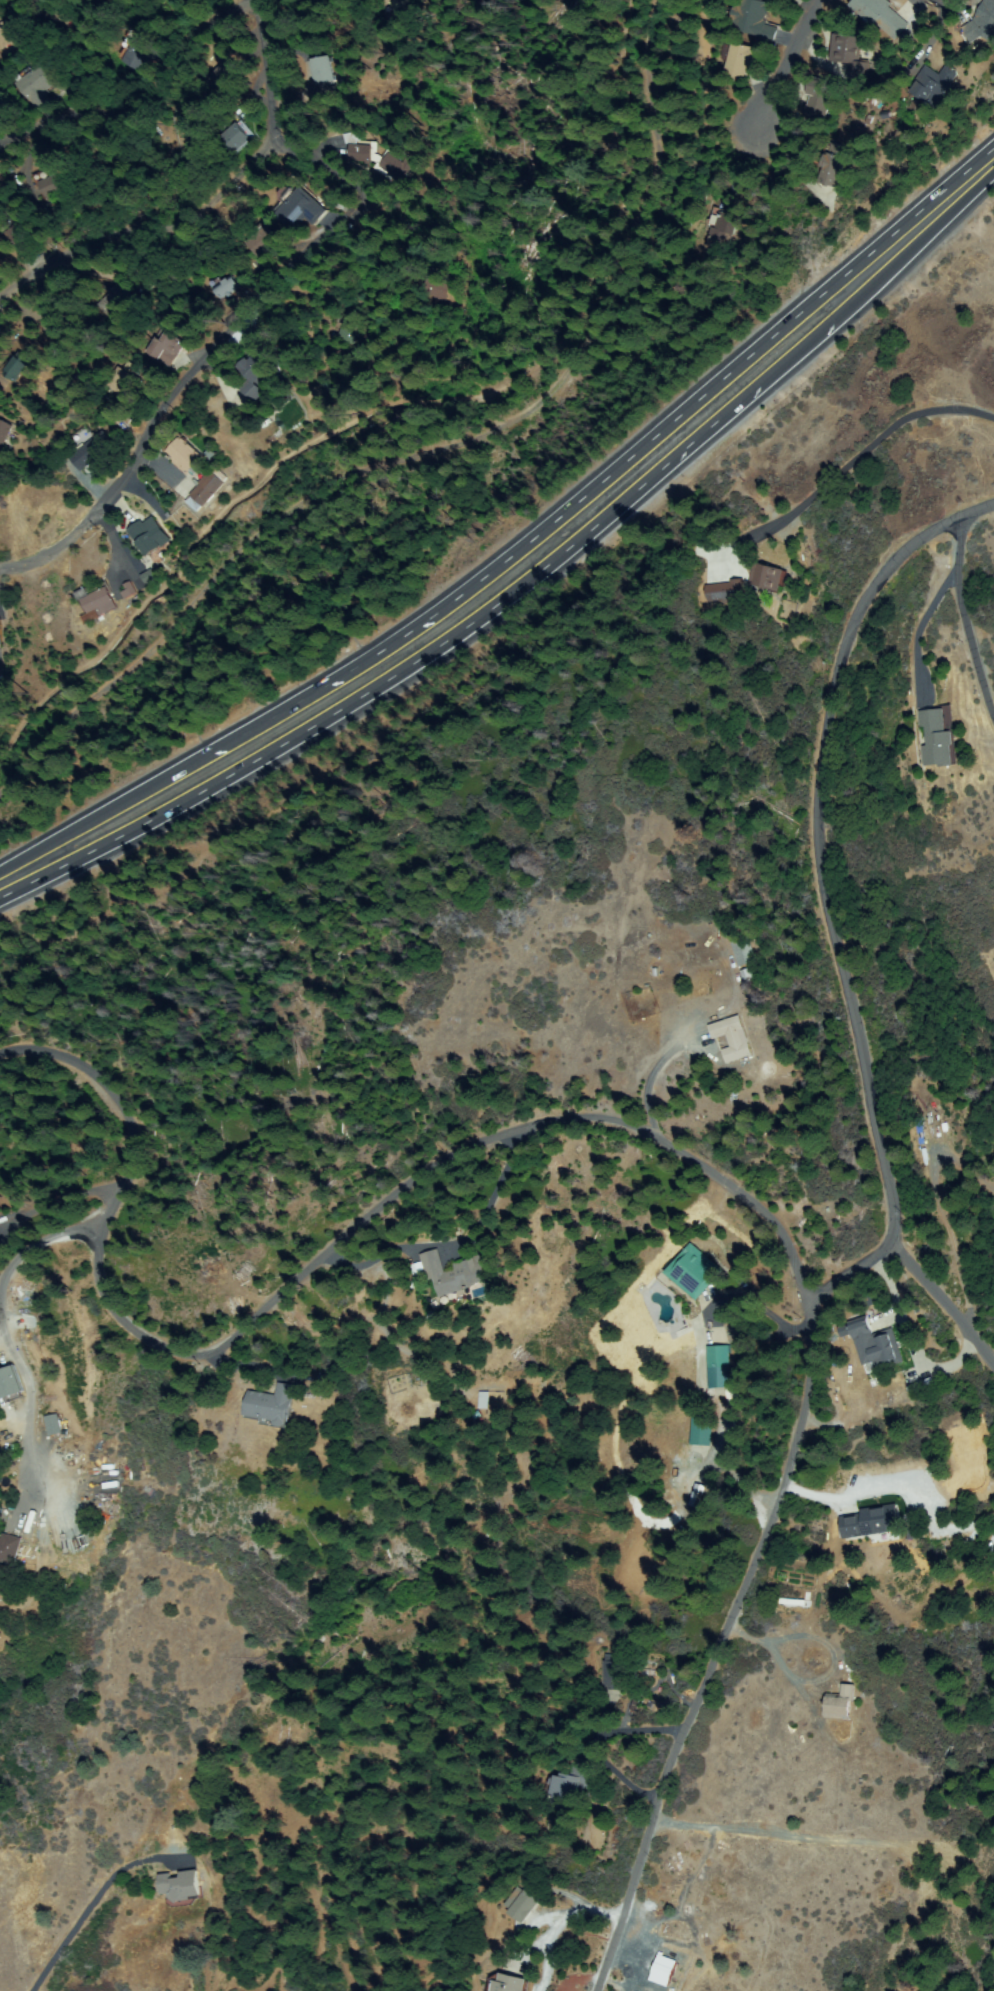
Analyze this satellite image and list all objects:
building: (383, 2)
building: (399, 2)
building: (56, 16)
building: (879, 16)
building: (755, 20)
building: (982, 23)
building: (10, 39)
building: (139, 53)
building: (850, 55)
building: (744, 59)
road: (786, 65)
road: (263, 70)
building: (323, 71)
building: (223, 76)
building: (78, 84)
building: (39, 85)
building: (933, 85)
building: (819, 98)
road: (151, 104)
building: (187, 137)
building: (234, 137)
building: (357, 149)
building: (833, 165)
building: (393, 168)
building: (105, 177)
building: (54, 186)
building: (298, 209)
road: (144, 228)
building: (723, 232)
building: (19, 235)
building: (262, 240)
road: (919, 248)
building: (224, 288)
building: (431, 290)
building: (117, 301)
building: (57, 322)
building: (349, 335)
building: (167, 348)
road: (204, 349)
building: (257, 367)
building: (19, 368)
building: (124, 382)
building: (4, 435)
building: (92, 452)
road: (860, 452)
building: (183, 455)
road: (603, 481)
building: (207, 489)
building: (150, 536)
building: (148, 577)
building: (767, 578)
building: (128, 590)
building: (725, 592)
building: (98, 602)
road: (965, 613)
road: (444, 646)
building: (937, 739)
road: (92, 819)
road: (823, 896)
building: (743, 951)
building: (655, 973)
building: (748, 975)
building: (733, 1038)
road: (303, 1269)
building: (417, 1271)
building: (694, 1272)
building: (454, 1273)
road: (941, 1306)
building: (876, 1346)
building: (718, 1368)
building: (8, 1385)
building: (270, 1406)
building: (53, 1425)
building: (700, 1432)
building: (697, 1495)
building: (870, 1521)
building: (8, 1549)
road: (732, 1628)
building: (612, 1673)
building: (839, 1704)
building: (571, 1785)
building: (180, 1887)
road: (85, 1904)
building: (521, 1906)
building: (661, 1971)
building: (508, 1985)

